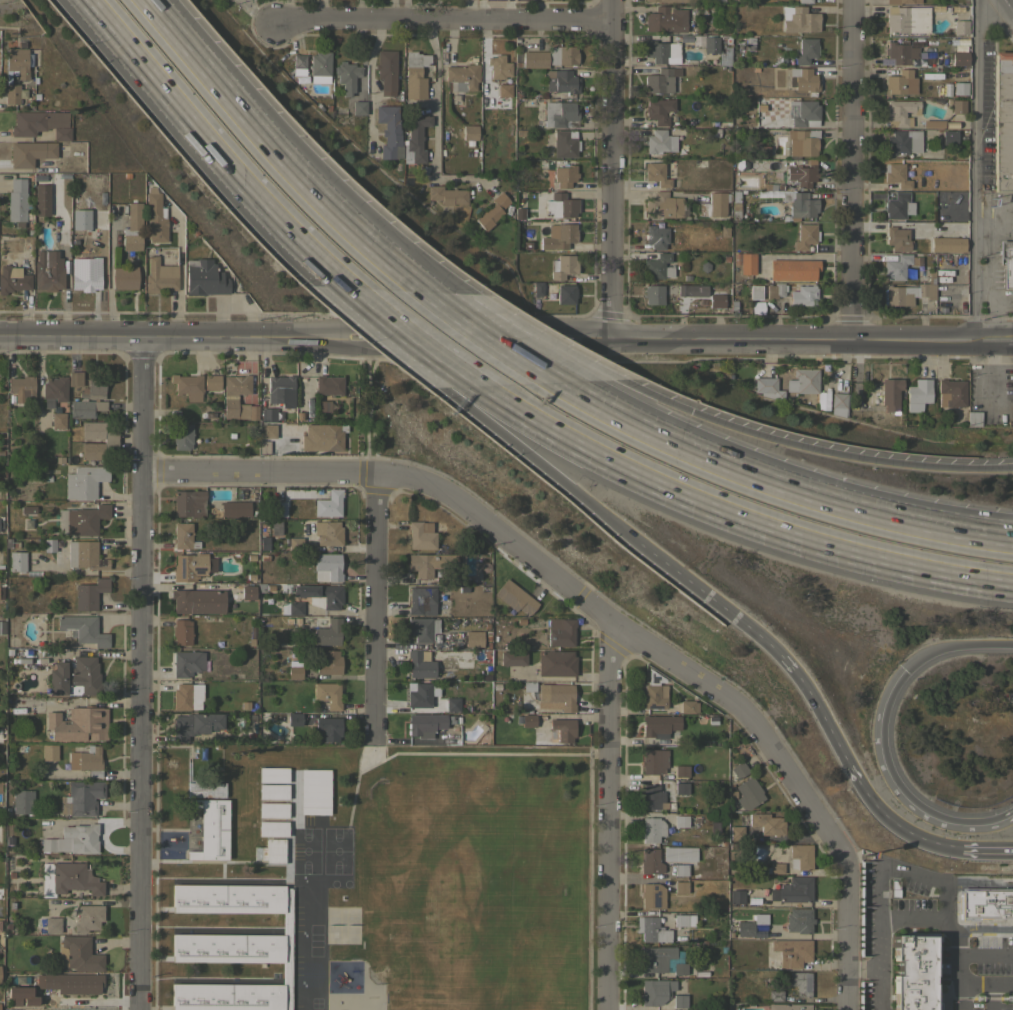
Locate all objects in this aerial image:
building: (668, 1)
building: (804, 1)
road: (1012, 1)
building: (900, 2)
road: (249, 4)
road: (323, 9)
road: (253, 10)
road: (440, 18)
building: (665, 19)
building: (798, 19)
building: (906, 19)
building: (960, 27)
building: (748, 43)
building: (710, 44)
building: (805, 51)
building: (661, 52)
building: (900, 52)
building: (562, 55)
building: (724, 56)
building: (959, 58)
building: (532, 59)
building: (297, 65)
building: (319, 67)
building: (498, 67)
building: (386, 69)
building: (21, 74)
building: (415, 75)
building: (346, 76)
building: (461, 77)
building: (660, 80)
building: (802, 80)
building: (561, 81)
building: (899, 82)
road: (369, 85)
building: (960, 88)
building: (503, 93)
road: (434, 99)
road: (232, 101)
building: (958, 106)
building: (352, 108)
building: (658, 110)
building: (802, 112)
building: (900, 112)
building: (559, 114)
building: (1002, 121)
building: (933, 123)
building: (40, 124)
building: (950, 125)
building: (389, 132)
building: (713, 132)
building: (469, 133)
building: (948, 137)
building: (415, 139)
building: (659, 141)
building: (904, 141)
building: (802, 142)
building: (564, 143)
road: (213, 147)
building: (29, 152)
building: (741, 164)
road: (610, 169)
road: (851, 170)
road: (974, 170)
building: (656, 174)
building: (898, 174)
building: (801, 175)
building: (564, 176)
building: (961, 187)
building: (447, 195)
building: (40, 199)
building: (16, 202)
building: (714, 204)
building: (802, 205)
building: (559, 206)
building: (664, 206)
building: (897, 206)
building: (492, 211)
building: (518, 214)
building: (734, 214)
building: (155, 216)
building: (79, 219)
road: (993, 222)
building: (132, 228)
building: (62, 236)
building: (558, 236)
building: (805, 236)
building: (656, 237)
building: (897, 239)
building: (947, 244)
building: (527, 245)
road: (374, 246)
road: (389, 246)
building: (734, 258)
building: (1006, 262)
building: (746, 263)
building: (562, 266)
building: (899, 266)
building: (657, 267)
building: (792, 269)
building: (47, 273)
building: (84, 276)
building: (159, 276)
road: (179, 277)
building: (123, 278)
building: (203, 278)
building: (12, 279)
building: (538, 288)
building: (691, 289)
building: (774, 290)
building: (754, 292)
building: (907, 293)
building: (565, 294)
building: (654, 295)
building: (802, 295)
road: (359, 298)
building: (715, 300)
building: (731, 305)
building: (756, 308)
road: (174, 337)
road: (494, 337)
road: (538, 337)
road: (481, 338)
road: (813, 339)
road: (418, 344)
road: (405, 348)
building: (73, 378)
building: (803, 381)
building: (211, 382)
building: (328, 385)
building: (93, 386)
building: (187, 386)
building: (768, 388)
building: (20, 390)
building: (52, 390)
building: (280, 391)
building: (918, 391)
building: (951, 393)
building: (859, 394)
building: (883, 394)
building: (229, 399)
building: (823, 399)
building: (838, 400)
building: (85, 408)
building: (267, 415)
building: (973, 418)
building: (56, 419)
building: (892, 422)
building: (267, 431)
building: (182, 437)
building: (322, 437)
building: (109, 441)
road: (810, 449)
road: (713, 463)
building: (83, 482)
building: (188, 503)
building: (328, 504)
building: (234, 509)
building: (278, 509)
road: (727, 515)
building: (80, 520)
road: (612, 521)
road: (946, 521)
road: (946, 528)
building: (327, 533)
building: (181, 535)
building: (421, 535)
building: (295, 544)
building: (84, 556)
building: (16, 561)
building: (429, 563)
building: (191, 567)
building: (326, 567)
road: (542, 569)
building: (247, 593)
building: (88, 595)
building: (320, 595)
building: (514, 597)
building: (421, 601)
building: (196, 602)
road: (372, 607)
building: (291, 608)
building: (1, 627)
building: (422, 629)
building: (81, 630)
building: (326, 631)
building: (181, 632)
building: (560, 632)
building: (473, 638)
building: (512, 658)
building: (187, 663)
building: (329, 663)
building: (556, 663)
building: (419, 665)
building: (294, 670)
road: (141, 673)
building: (75, 677)
building: (327, 694)
building: (418, 695)
building: (187, 696)
building: (556, 696)
building: (653, 696)
building: (452, 704)
building: (688, 706)
road: (816, 707)
building: (294, 719)
building: (528, 720)
building: (78, 724)
building: (194, 725)
building: (424, 725)
building: (659, 727)
building: (327, 729)
building: (561, 730)
road: (881, 735)
building: (49, 752)
building: (87, 760)
building: (653, 761)
building: (681, 771)
building: (736, 771)
building: (273, 775)
building: (680, 788)
building: (205, 789)
building: (273, 791)
building: (314, 791)
building: (748, 793)
building: (651, 797)
building: (81, 798)
building: (23, 801)
building: (272, 810)
road: (606, 814)
road: (891, 820)
building: (680, 821)
building: (764, 823)
building: (272, 828)
building: (211, 829)
building: (651, 829)
building: (736, 833)
building: (73, 839)
road: (985, 850)
building: (273, 851)
building: (678, 854)
building: (800, 856)
building: (650, 861)
building: (774, 868)
building: (679, 870)
building: (68, 878)
building: (681, 887)
building: (792, 890)
building: (652, 896)
building: (736, 896)
building: (985, 903)
building: (868, 908)
building: (88, 918)
building: (684, 920)
building: (798, 920)
road: (886, 920)
building: (52, 924)
building: (750, 925)
building: (983, 927)
building: (650, 929)
road: (844, 938)
building: (939, 944)
building: (233, 947)
building: (791, 951)
building: (78, 954)
building: (655, 958)
building: (679, 968)
road: (956, 969)
building: (911, 972)
building: (69, 983)
building: (800, 983)
building: (655, 991)
building: (775, 995)
road: (955, 997)
building: (679, 1001)
building: (790, 1007)
building: (10, 1009)

